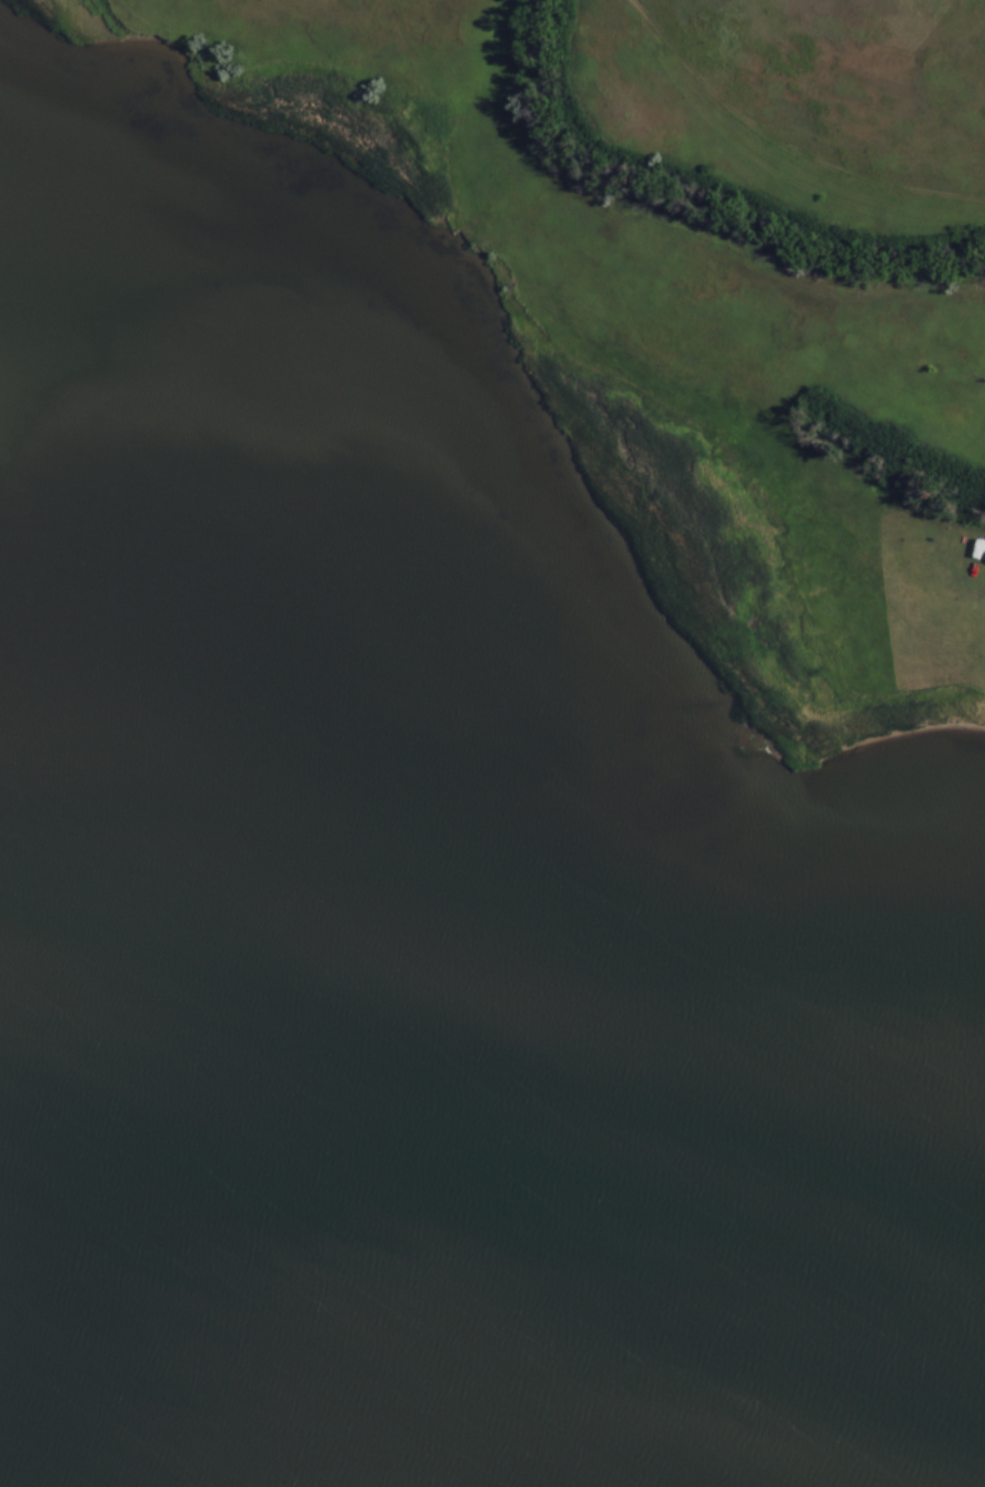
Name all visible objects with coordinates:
road: (953, 53)
road: (784, 147)
river: (216, 1168)

